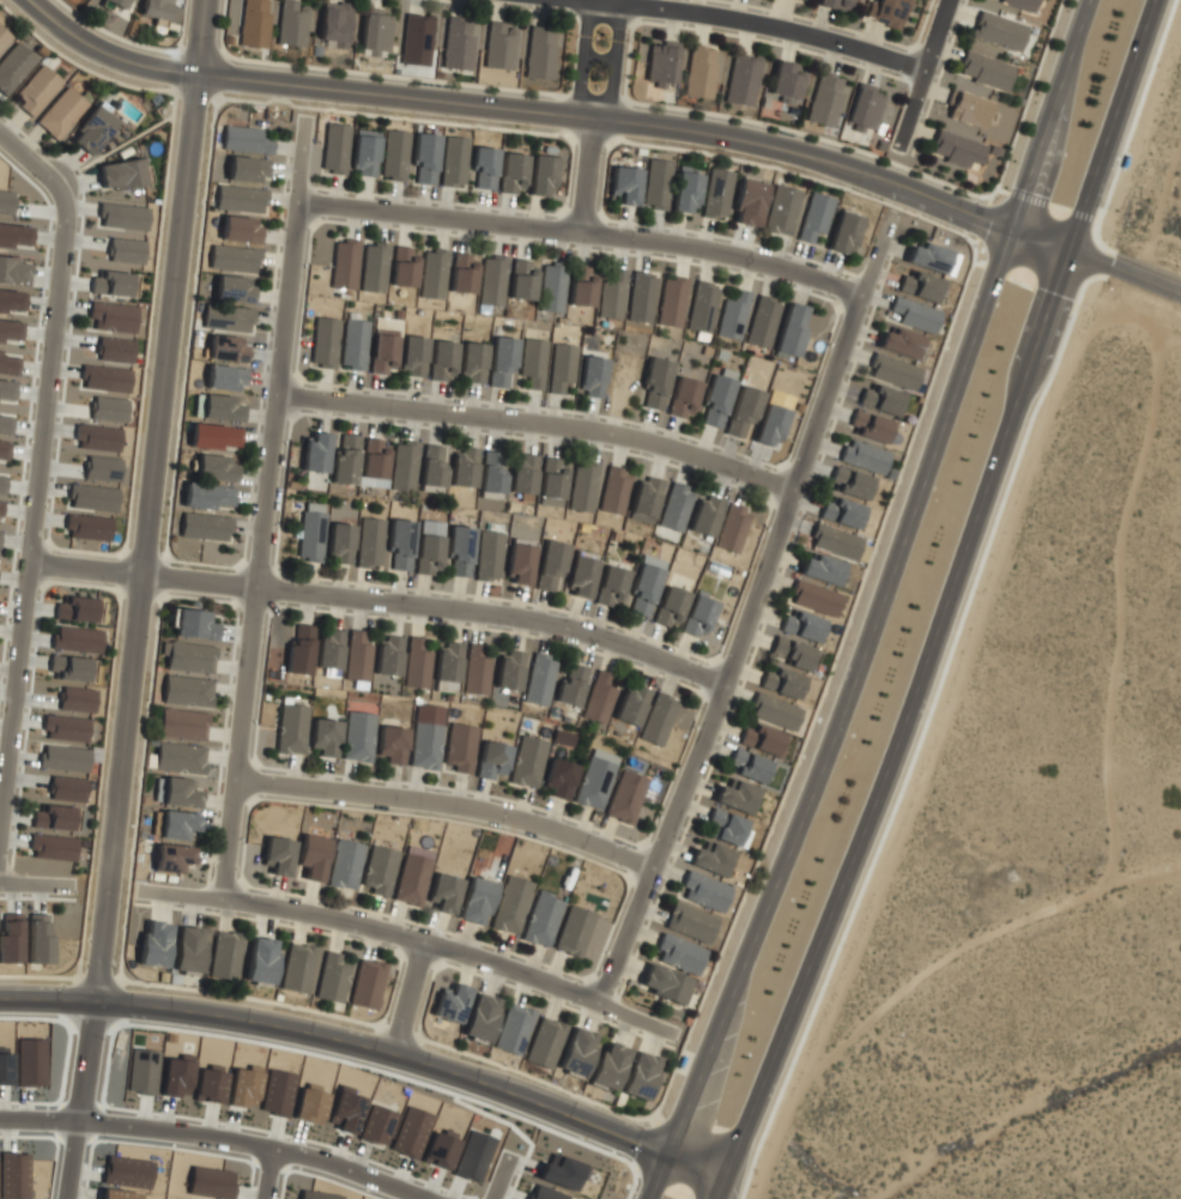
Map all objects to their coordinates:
building: (800, 0)
building: (114, 4)
building: (1019, 4)
building: (834, 5)
building: (158, 10)
building: (886, 12)
road: (759, 22)
building: (253, 24)
building: (292, 24)
building: (333, 24)
building: (998, 31)
building: (375, 35)
building: (4, 37)
building: (416, 41)
building: (456, 46)
building: (498, 47)
building: (539, 53)
road: (599, 57)
building: (661, 63)
building: (13, 67)
building: (983, 69)
building: (699, 72)
road: (926, 73)
building: (741, 80)
building: (785, 81)
building: (36, 92)
building: (826, 101)
road: (519, 107)
building: (864, 109)
building: (967, 109)
building: (60, 114)
road: (1115, 125)
building: (92, 131)
building: (243, 139)
building: (334, 149)
building: (956, 149)
building: (364, 156)
building: (394, 156)
road: (25, 158)
building: (423, 158)
building: (453, 161)
building: (1122, 161)
road: (1054, 166)
building: (246, 169)
building: (483, 169)
building: (511, 174)
road: (587, 174)
building: (120, 175)
building: (541, 176)
building: (623, 184)
building: (655, 184)
building: (685, 193)
building: (715, 195)
building: (240, 199)
building: (6, 201)
building: (747, 204)
building: (781, 212)
building: (123, 216)
building: (813, 217)
building: (240, 229)
road: (583, 232)
building: (842, 234)
building: (16, 236)
building: (126, 250)
building: (927, 256)
building: (232, 259)
road: (1097, 260)
building: (343, 264)
building: (373, 267)
building: (401, 267)
building: (13, 271)
building: (461, 273)
building: (431, 274)
building: (521, 279)
building: (491, 281)
building: (111, 283)
building: (581, 285)
building: (919, 285)
building: (550, 287)
building: (232, 290)
building: (610, 295)
building: (640, 297)
building: (11, 299)
building: (671, 301)
building: (701, 307)
building: (732, 315)
building: (914, 315)
building: (111, 317)
building: (226, 319)
building: (761, 322)
building: (10, 329)
building: (789, 331)
building: (900, 341)
building: (322, 343)
building: (352, 344)
building: (115, 347)
building: (226, 347)
building: (381, 353)
building: (412, 356)
building: (441, 361)
building: (501, 362)
building: (531, 362)
building: (471, 363)
building: (8, 364)
building: (561, 369)
building: (892, 371)
building: (105, 377)
building: (590, 377)
building: (225, 379)
building: (655, 384)
building: (7, 389)
building: (682, 399)
building: (879, 399)
building: (715, 401)
building: (108, 408)
building: (220, 408)
building: (741, 413)
road: (541, 422)
building: (5, 424)
building: (769, 426)
building: (868, 426)
building: (97, 436)
building: (213, 437)
building: (4, 449)
building: (314, 453)
building: (862, 455)
building: (373, 459)
building: (344, 460)
building: (402, 466)
building: (431, 467)
building: (102, 468)
building: (213, 468)
building: (462, 468)
building: (491, 474)
building: (522, 474)
road: (32, 477)
building: (550, 483)
building: (849, 483)
building: (1, 484)
building: (582, 486)
building: (613, 491)
building: (91, 497)
road: (152, 497)
building: (206, 497)
building: (644, 499)
building: (0, 505)
building: (674, 508)
road: (266, 510)
building: (841, 513)
building: (704, 516)
building: (85, 526)
building: (202, 528)
building: (732, 528)
building: (0, 531)
building: (310, 533)
building: (835, 541)
building: (369, 543)
building: (339, 544)
building: (399, 545)
building: (458, 552)
building: (429, 556)
building: (487, 557)
building: (519, 563)
building: (550, 567)
building: (820, 569)
building: (581, 576)
building: (612, 588)
building: (642, 592)
building: (813, 598)
road: (381, 599)
road: (877, 601)
building: (668, 607)
building: (77, 608)
road: (751, 614)
building: (698, 616)
building: (190, 625)
building: (801, 625)
building: (75, 638)
building: (298, 649)
building: (328, 649)
building: (792, 653)
building: (388, 656)
building: (187, 659)
building: (356, 659)
building: (447, 662)
building: (416, 665)
building: (69, 667)
building: (508, 670)
building: (474, 671)
building: (538, 679)
building: (781, 683)
building: (569, 684)
building: (184, 692)
building: (599, 697)
building: (77, 698)
building: (631, 706)
building: (773, 713)
building: (656, 719)
building: (181, 725)
road: (902, 726)
building: (66, 727)
building: (290, 729)
building: (357, 738)
building: (563, 738)
building: (322, 739)
building: (759, 740)
building: (390, 746)
building: (424, 746)
building: (459, 749)
building: (177, 758)
building: (491, 762)
building: (527, 762)
building: (747, 767)
building: (558, 780)
building: (594, 780)
building: (66, 788)
building: (178, 793)
building: (735, 797)
building: (625, 798)
road: (450, 803)
building: (54, 817)
building: (177, 826)
building: (722, 828)
building: (50, 848)
building: (275, 856)
building: (311, 858)
building: (170, 859)
building: (708, 860)
building: (344, 865)
building: (378, 872)
building: (410, 880)
road: (32, 886)
building: (703, 892)
building: (442, 895)
building: (476, 902)
building: (510, 906)
building: (541, 920)
building: (689, 924)
building: (574, 932)
building: (11, 938)
road: (413, 938)
building: (152, 945)
building: (37, 950)
building: (187, 951)
building: (678, 955)
building: (224, 956)
building: (260, 962)
building: (296, 969)
building: (331, 977)
building: (367, 985)
building: (662, 985)
road: (411, 994)
building: (450, 1005)
building: (479, 1019)
building: (513, 1031)
road: (341, 1034)
building: (544, 1044)
building: (575, 1054)
building: (30, 1061)
building: (606, 1067)
building: (141, 1071)
building: (176, 1076)
building: (637, 1077)
building: (210, 1083)
building: (244, 1085)
building: (277, 1092)
road: (81, 1096)
building: (310, 1103)
building: (376, 1125)
building: (410, 1131)
road: (223, 1136)
building: (440, 1147)
building: (472, 1156)
road: (699, 1159)
building: (127, 1171)
road: (267, 1171)
building: (561, 1171)
road: (495, 1173)
building: (13, 1175)
building: (211, 1182)
building: (544, 1193)
building: (117, 1194)
building: (317, 1195)

